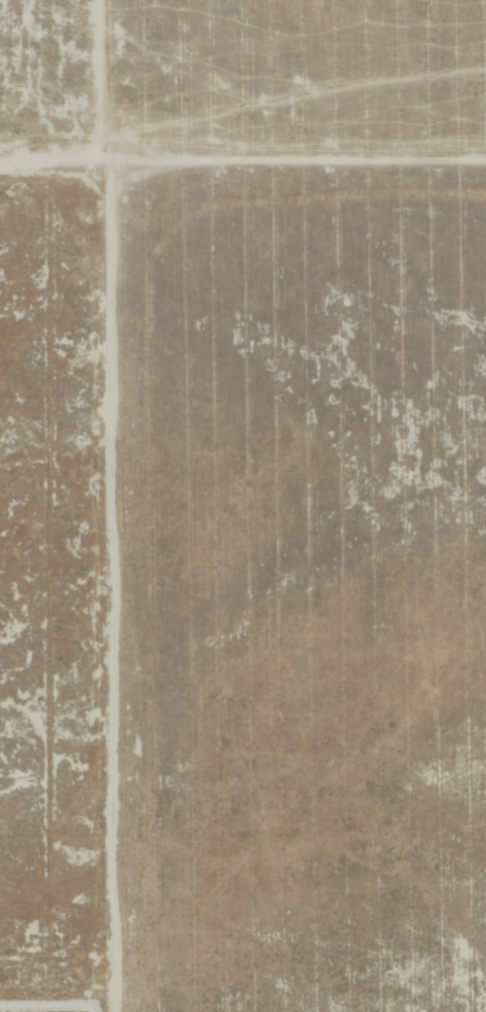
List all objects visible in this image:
crop: (45, 1009)

